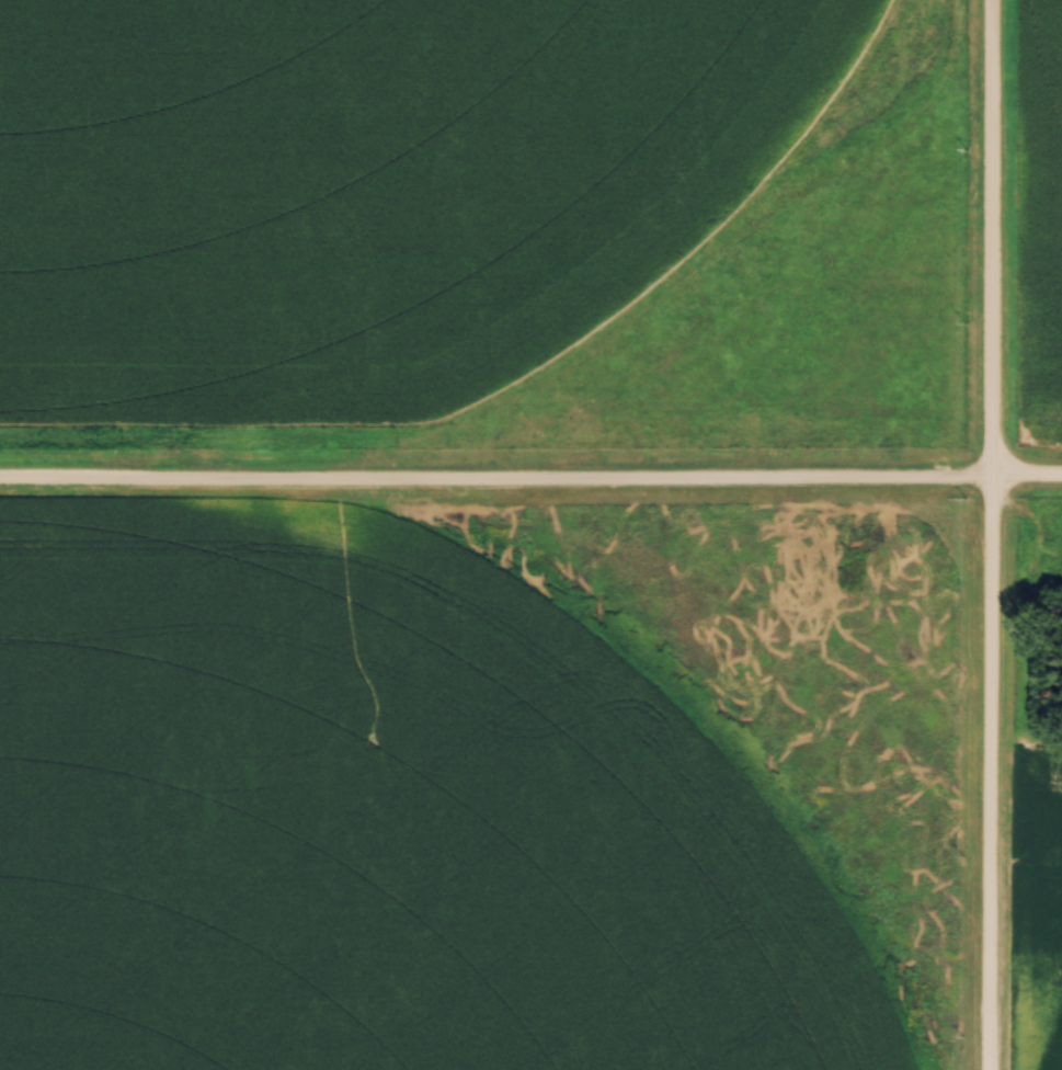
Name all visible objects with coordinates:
road: (530, 483)
road: (991, 535)

